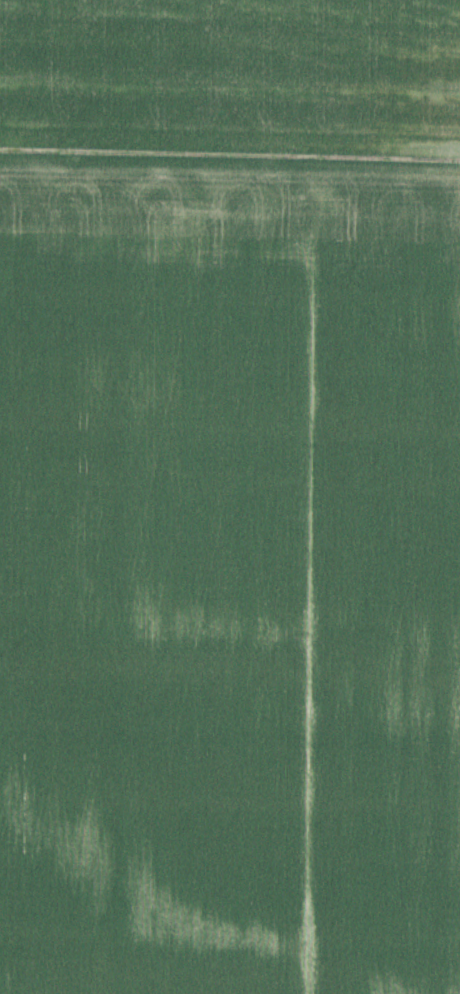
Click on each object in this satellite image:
road: (194, 169)

